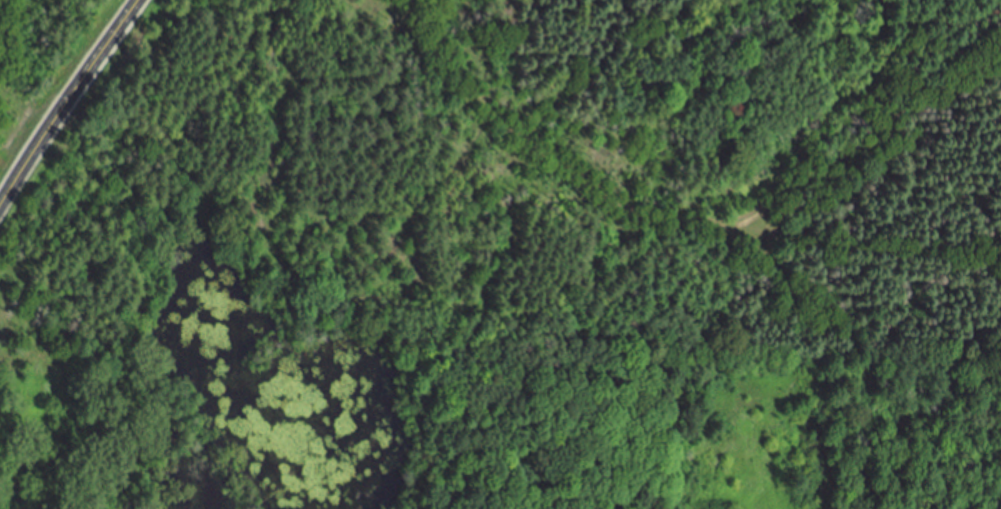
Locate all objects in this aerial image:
road: (64, 100)

